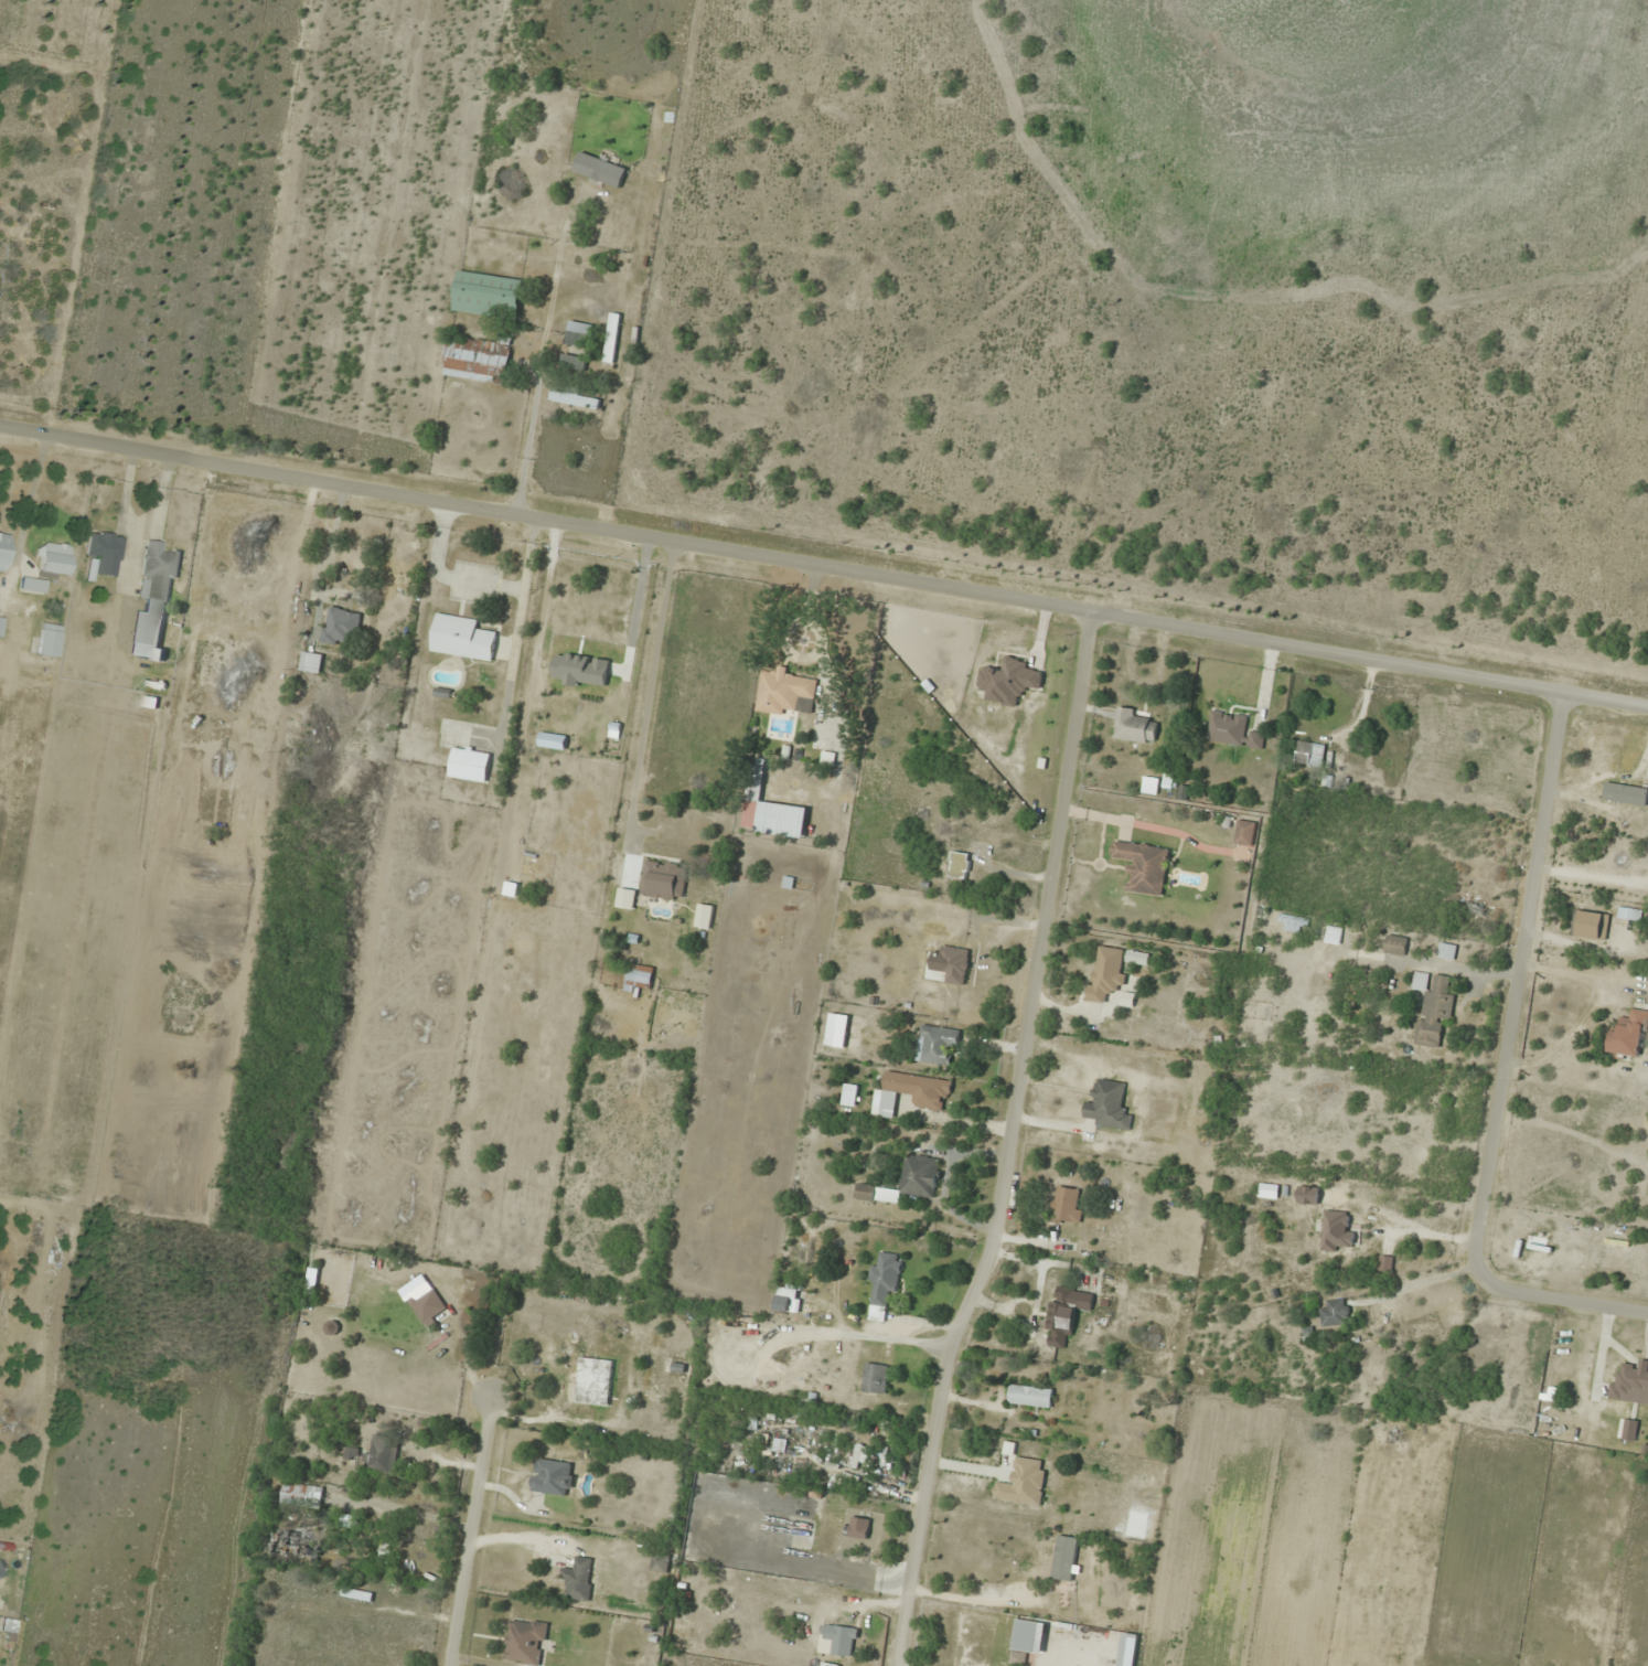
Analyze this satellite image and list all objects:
building: (489, 293)
building: (579, 332)
building: (612, 337)
building: (479, 357)
building: (574, 361)
building: (576, 397)
building: (2, 549)
building: (104, 553)
building: (52, 559)
road: (824, 566)
building: (242, 579)
building: (33, 584)
building: (153, 600)
building: (1, 624)
building: (342, 624)
building: (462, 637)
building: (49, 639)
building: (312, 661)
building: (999, 677)
building: (786, 692)
building: (1134, 725)
building: (1233, 729)
building: (261, 737)
building: (1309, 752)
building: (1601, 762)
building: (470, 763)
building: (1149, 784)
building: (771, 805)
building: (1245, 832)
building: (960, 864)
building: (1144, 865)
building: (664, 879)
building: (627, 897)
building: (1629, 912)
building: (705, 916)
building: (1591, 923)
building: (1334, 933)
building: (1395, 944)
building: (1447, 950)
building: (955, 963)
building: (1106, 973)
building: (640, 976)
building: (1432, 1005)
building: (1244, 1030)
building: (1629, 1034)
building: (935, 1043)
road: (1499, 1068)
building: (910, 1092)
building: (1109, 1106)
road: (1008, 1142)
building: (907, 1181)
building: (1308, 1194)
building: (1067, 1204)
building: (1337, 1229)
building: (1535, 1239)
building: (885, 1283)
building: (789, 1299)
building: (430, 1304)
building: (1066, 1312)
building: (1335, 1312)
building: (876, 1377)
building: (595, 1380)
building: (1631, 1384)
building: (566, 1389)
building: (1031, 1395)
building: (352, 1452)
building: (383, 1453)
building: (554, 1476)
building: (1024, 1482)
building: (302, 1494)
building: (859, 1527)
road: (470, 1531)
building: (297, 1542)
building: (1007, 1560)
building: (1064, 1560)
building: (661, 1561)
building: (579, 1578)
building: (359, 1593)
building: (842, 1638)
building: (1028, 1640)
building: (526, 1641)

